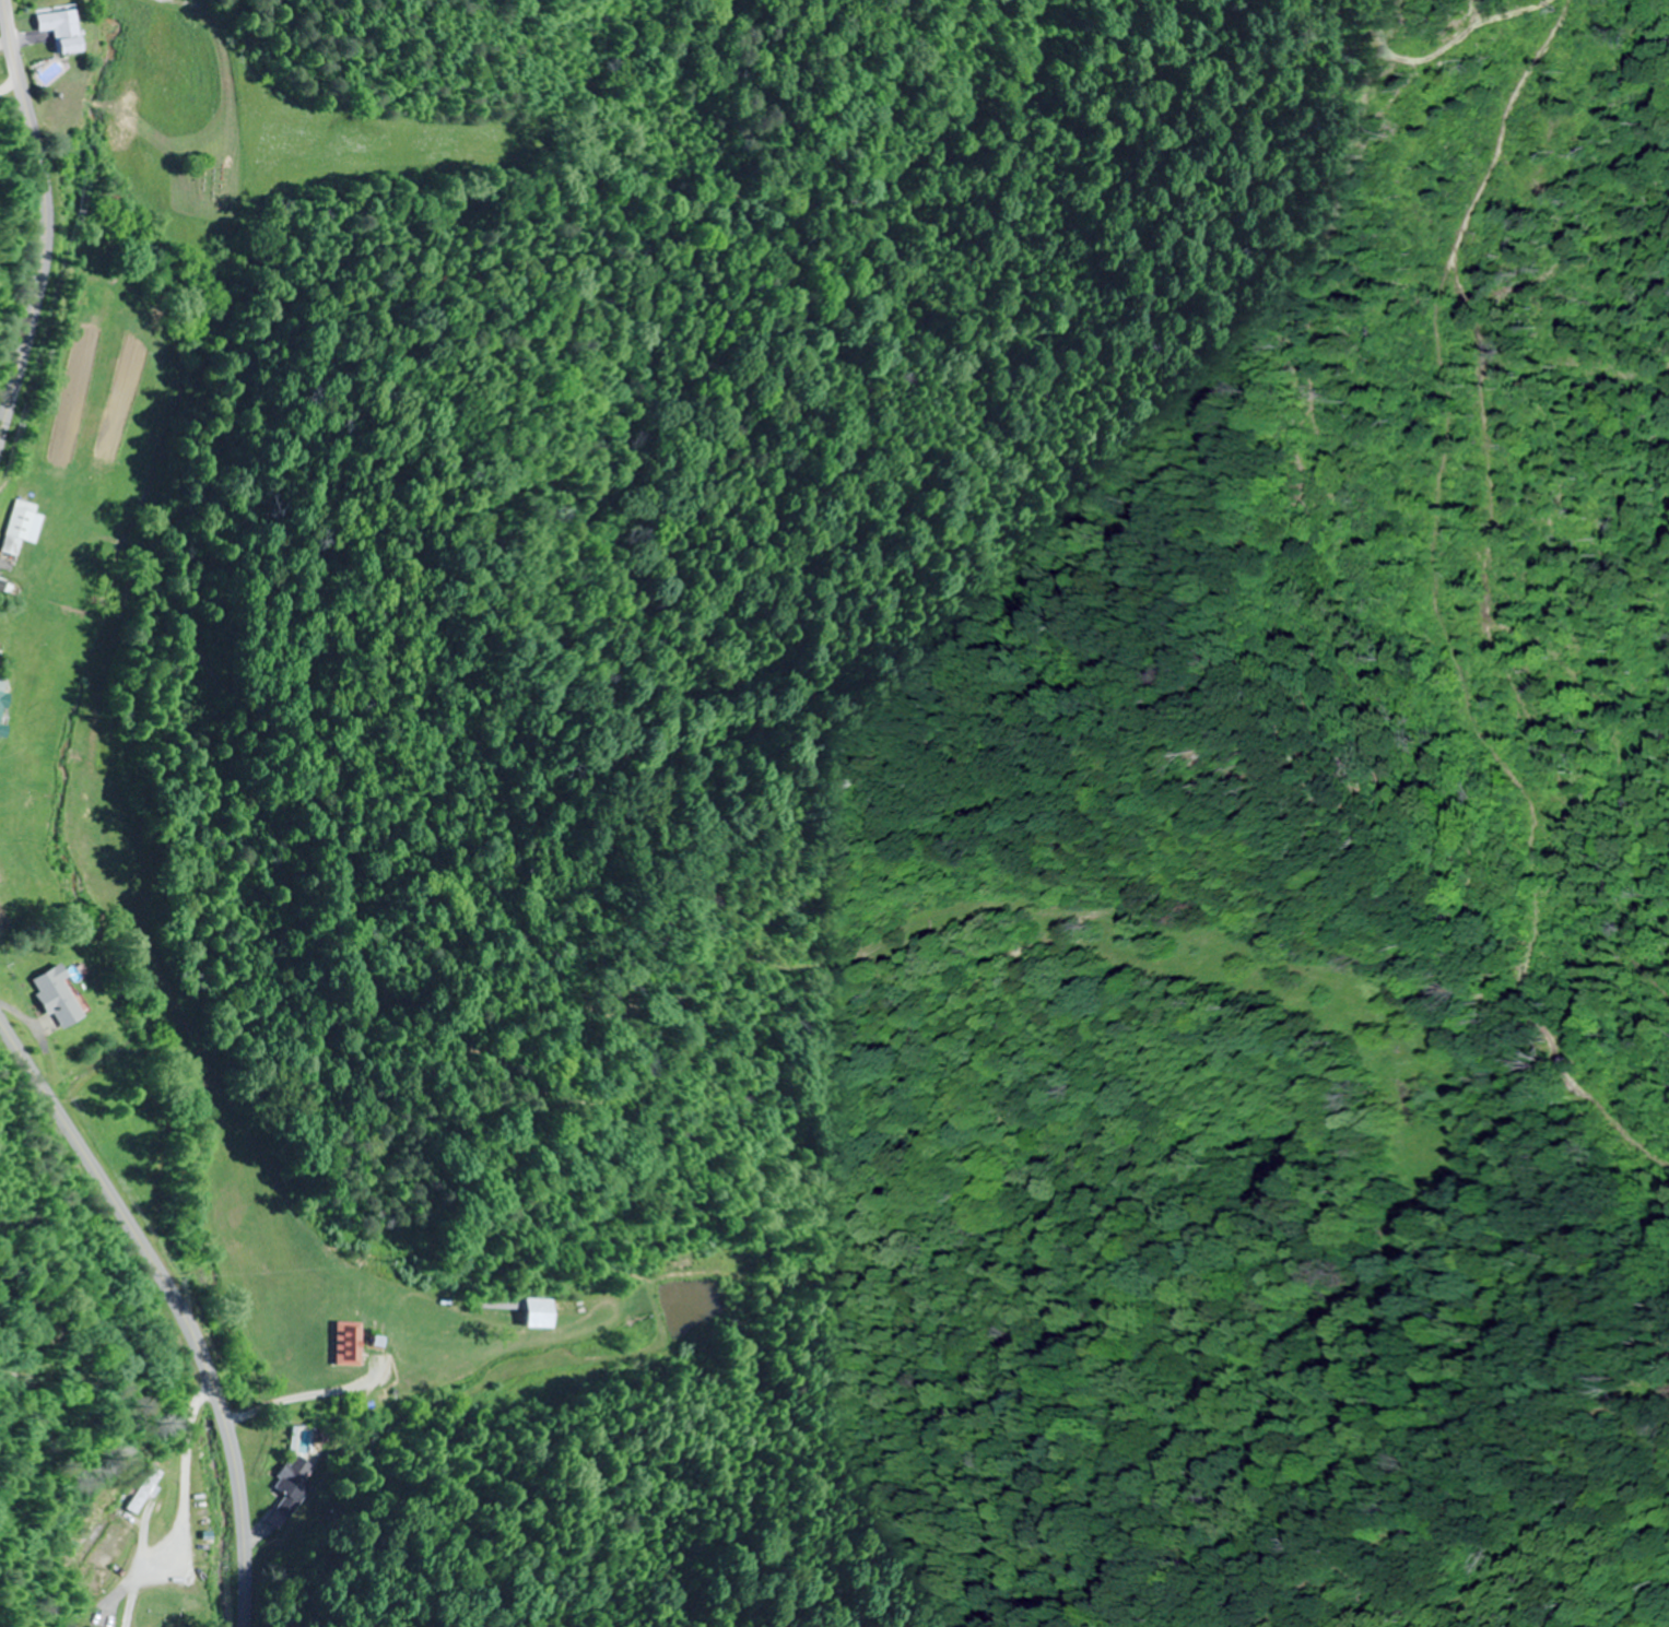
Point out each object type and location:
building: (63, 28)
road: (45, 215)
building: (21, 527)
building: (3, 712)
building: (60, 999)
road: (177, 1300)
building: (527, 1308)
building: (349, 1344)
road: (563, 1361)
building: (149, 1483)
building: (291, 1485)
building: (94, 1626)

